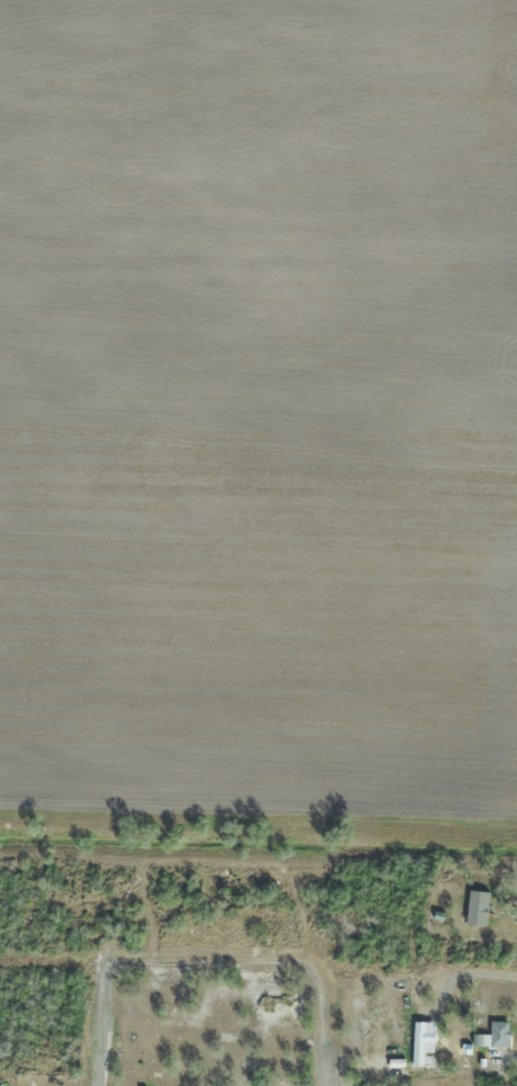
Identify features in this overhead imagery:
crop: (260, 400)
road: (203, 977)

